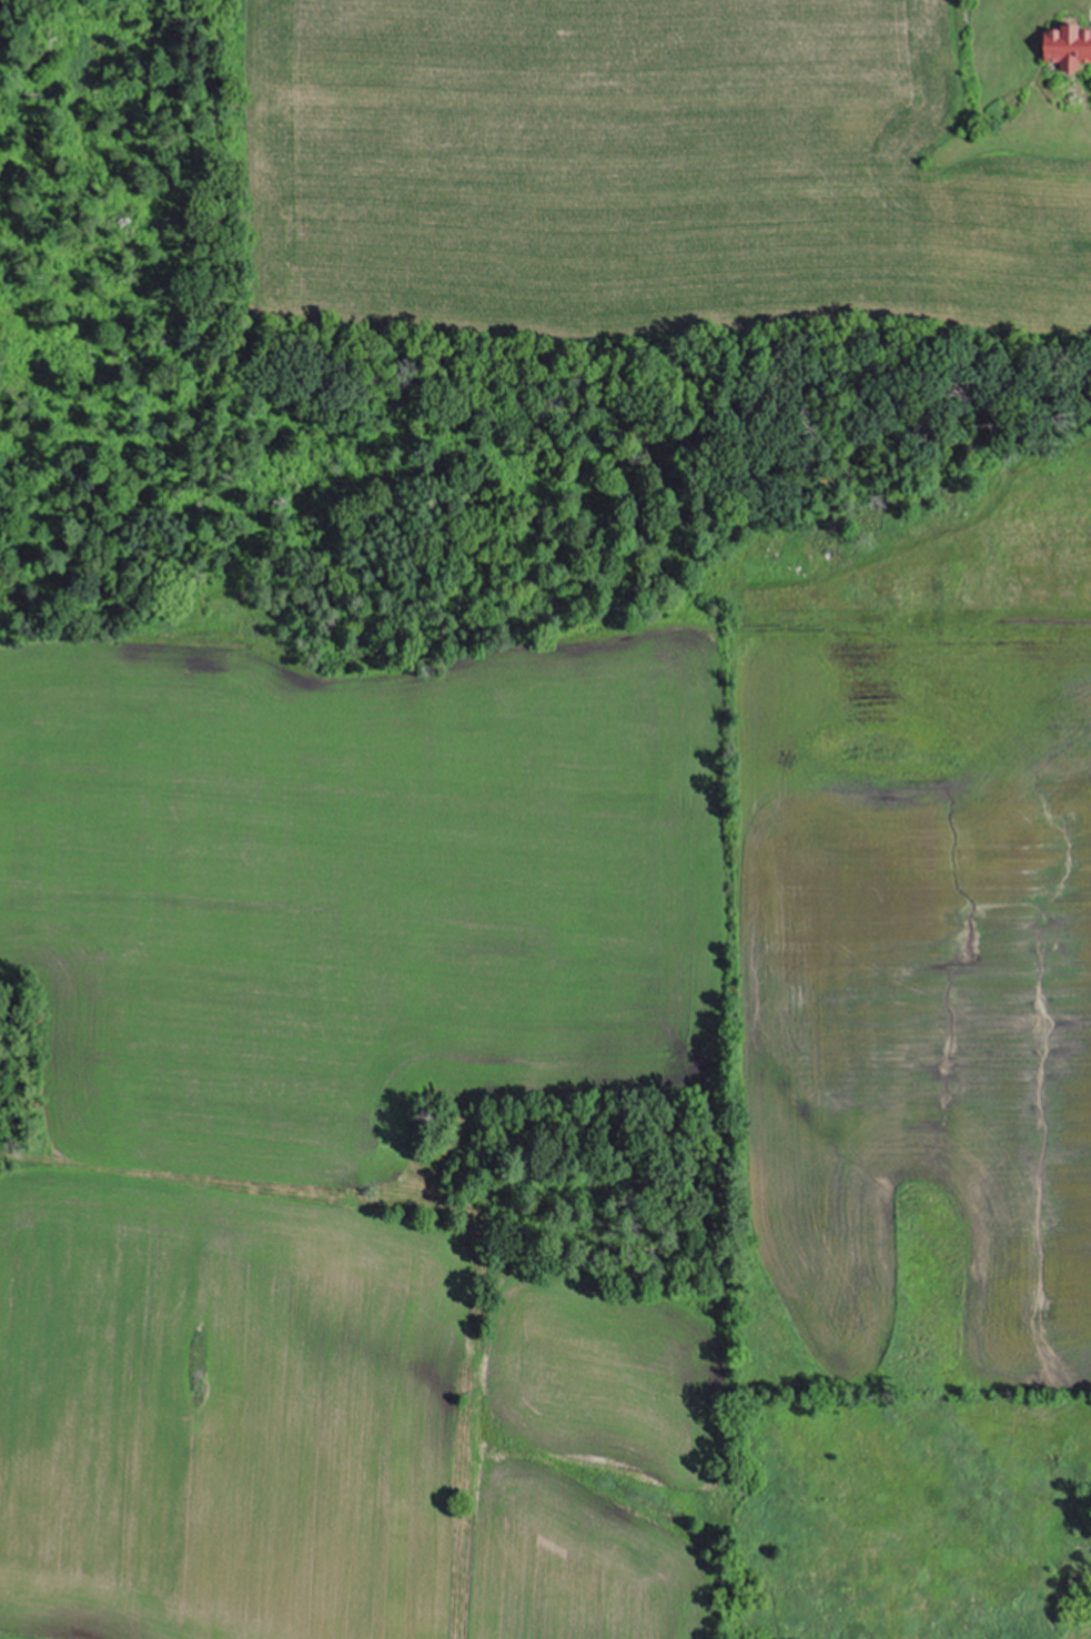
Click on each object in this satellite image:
building: (1064, 48)
road: (1088, 1628)

